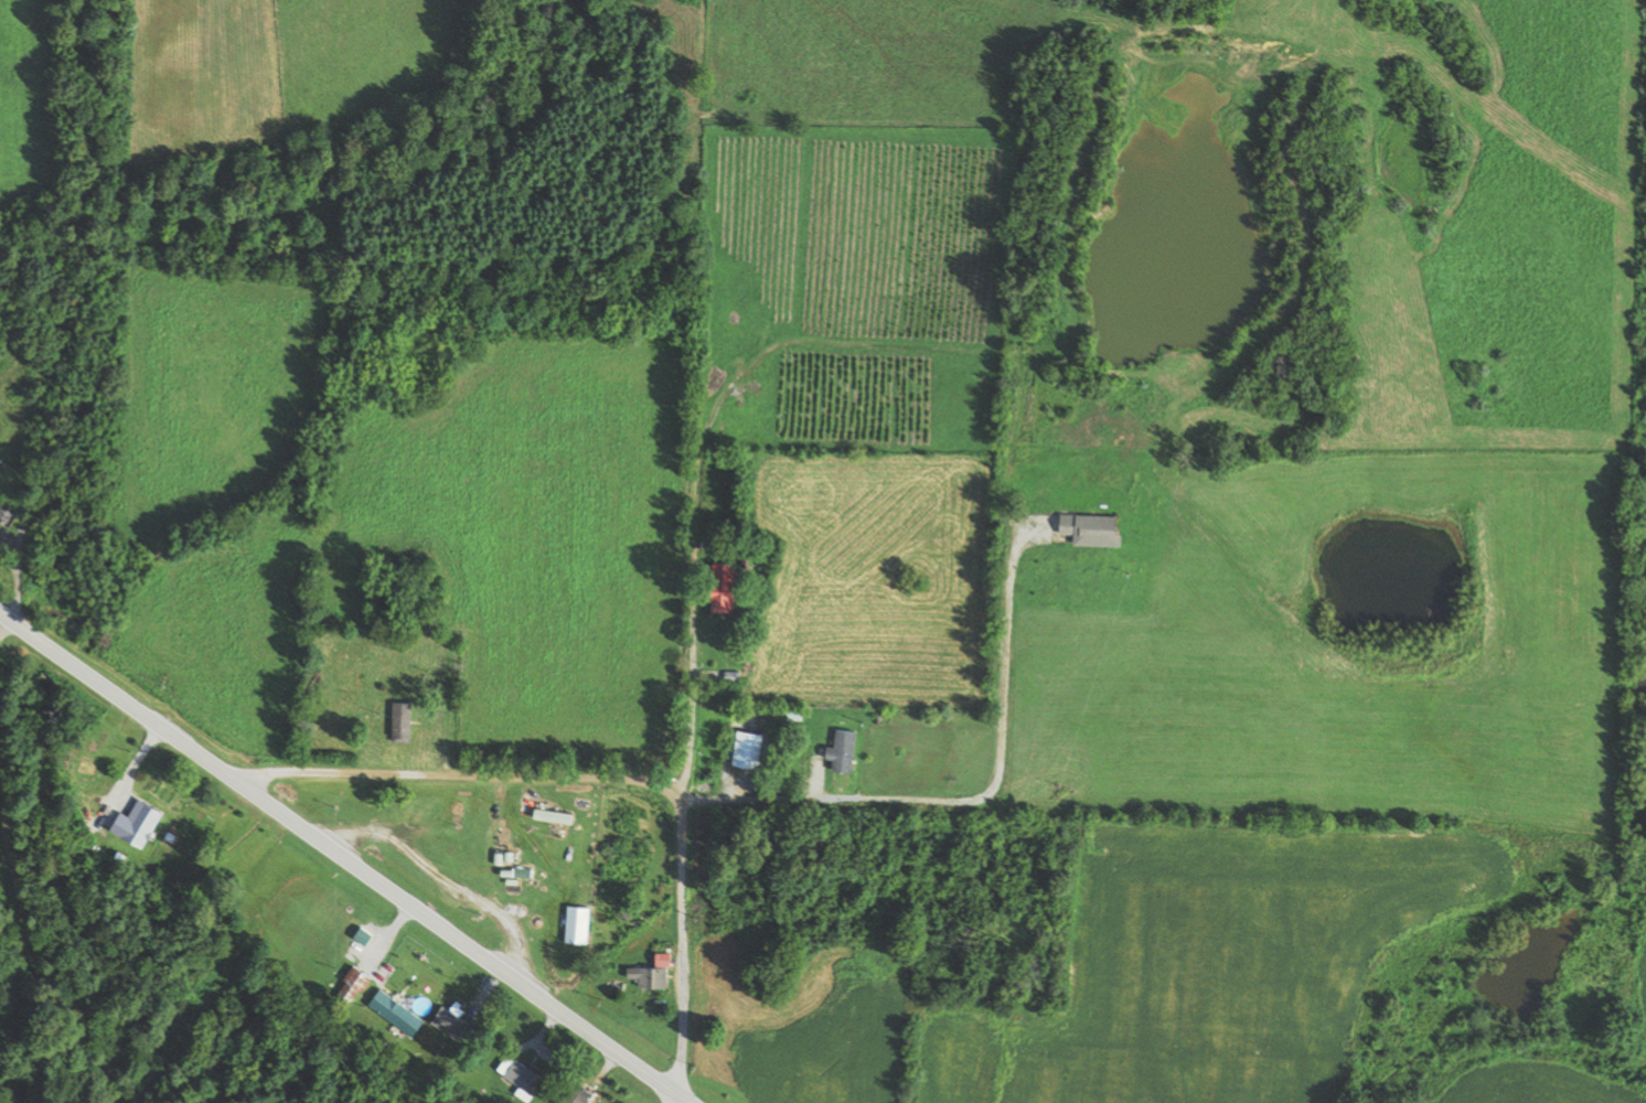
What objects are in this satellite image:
road: (723, 349)
building: (8, 516)
building: (1097, 528)
building: (729, 588)
road: (677, 675)
building: (406, 721)
building: (752, 749)
building: (847, 751)
road: (605, 779)
road: (973, 803)
building: (90, 806)
building: (452, 810)
building: (558, 818)
building: (126, 835)
road: (345, 857)
building: (581, 924)
building: (654, 973)
building: (356, 985)
building: (402, 1013)
building: (523, 1077)
building: (579, 1094)
road: (683, 1101)

